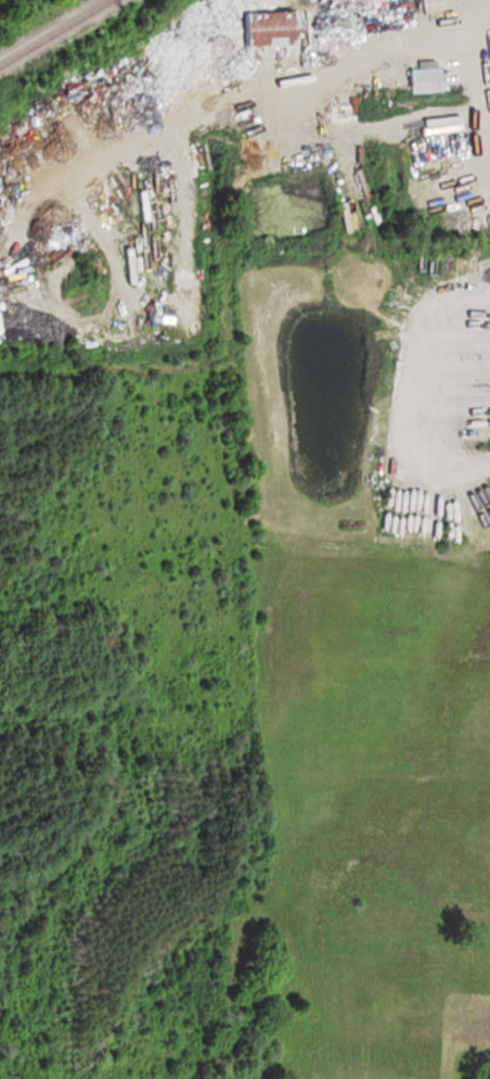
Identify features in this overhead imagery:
building: (260, 28)
railway: (56, 34)
road: (447, 42)
building: (418, 80)

